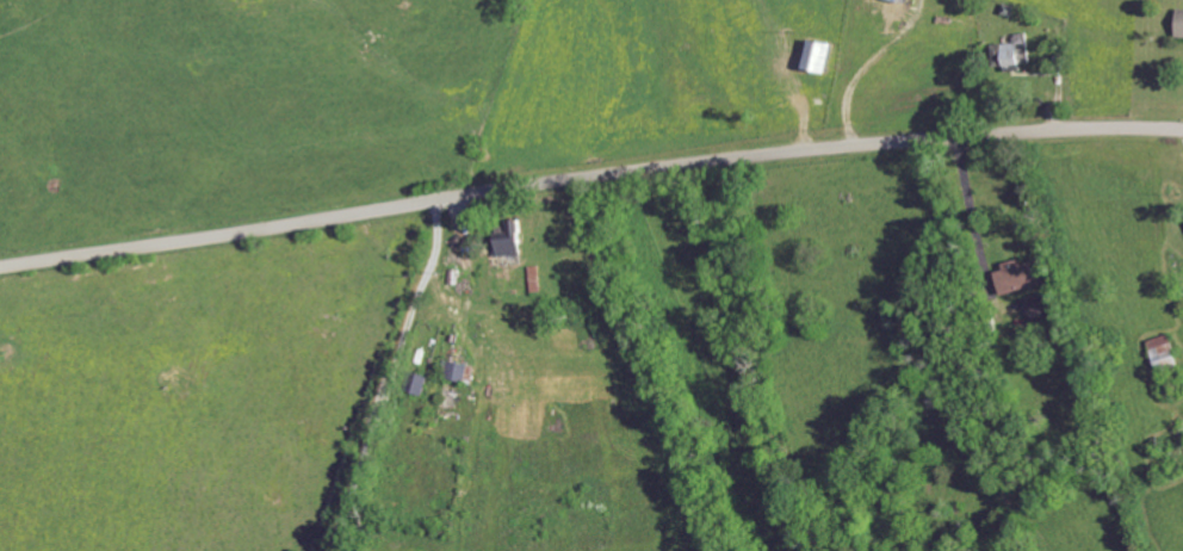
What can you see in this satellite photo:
building: (896, 7)
building: (1179, 23)
building: (1012, 50)
building: (817, 54)
road: (861, 66)
road: (589, 178)
road: (975, 224)
building: (508, 240)
building: (1018, 275)
building: (1040, 305)
building: (1163, 352)
building: (456, 371)
road: (392, 377)

